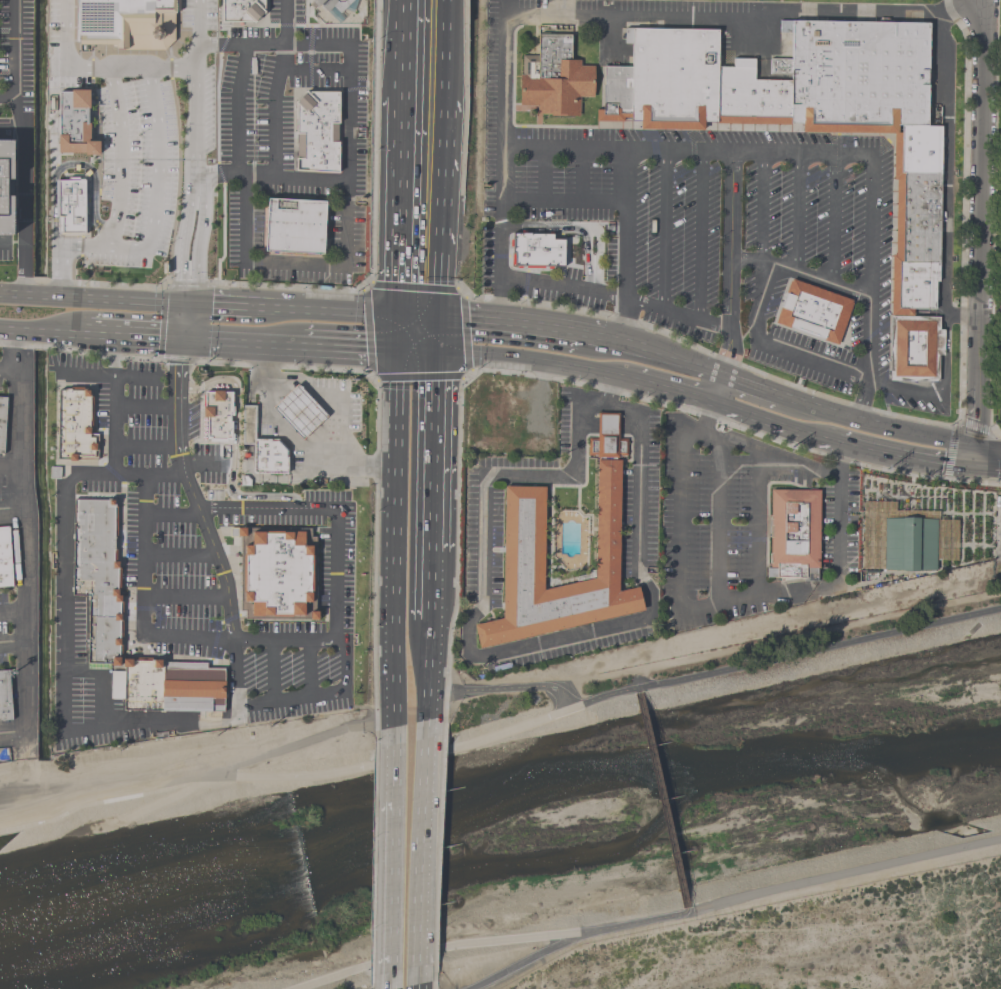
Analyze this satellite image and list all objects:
building: (330, 8)
building: (241, 12)
road: (674, 17)
building: (121, 23)
road: (64, 27)
road: (266, 47)
road: (403, 49)
road: (440, 50)
road: (128, 69)
building: (554, 77)
building: (673, 78)
building: (859, 78)
road: (349, 83)
road: (199, 87)
building: (754, 93)
building: (614, 96)
road: (7, 98)
road: (245, 111)
road: (283, 112)
road: (10, 130)
building: (315, 133)
road: (23, 146)
parking lot: (151, 146)
road: (120, 157)
road: (819, 157)
road: (945, 162)
road: (68, 164)
road: (272, 176)
road: (545, 176)
road: (583, 177)
building: (7, 187)
road: (438, 194)
road: (155, 199)
road: (565, 202)
road: (400, 207)
road: (763, 209)
road: (798, 215)
road: (834, 222)
road: (980, 225)
building: (294, 228)
road: (580, 229)
parking lot: (696, 230)
road: (665, 234)
road: (190, 239)
road: (703, 239)
road: (2, 242)
road: (627, 247)
building: (536, 250)
road: (587, 260)
road: (751, 261)
road: (293, 264)
road: (60, 270)
road: (500, 280)
road: (731, 280)
road: (820, 282)
road: (414, 287)
road: (334, 289)
road: (93, 298)
road: (485, 299)
road: (498, 300)
road: (436, 303)
traffic signals: (187, 306)
road: (218, 308)
road: (270, 311)
road: (345, 313)
building: (812, 313)
traffic signals: (399, 315)
road: (963, 315)
road: (417, 316)
traffic signals: (436, 317)
road: (679, 317)
road: (498, 321)
road: (185, 322)
road: (398, 331)
road: (368, 332)
road: (581, 332)
road: (42, 333)
road: (435, 333)
road: (97, 334)
road: (465, 334)
road: (146, 336)
traffic signals: (184, 339)
road: (242, 341)
road: (623, 341)
road: (349, 345)
traffic signals: (398, 347)
road: (416, 348)
road: (776, 348)
traffic signals: (434, 349)
building: (915, 349)
road: (53, 351)
road: (114, 355)
road: (534, 359)
road: (682, 359)
road: (179, 363)
road: (10, 373)
road: (104, 374)
road: (467, 374)
road: (373, 377)
road: (419, 377)
building: (1000, 381)
road: (940, 388)
road: (672, 391)
road: (341, 401)
road: (145, 407)
building: (1000, 409)
building: (300, 411)
building: (218, 415)
road: (706, 419)
road: (847, 419)
building: (1, 421)
road: (774, 421)
road: (112, 425)
building: (249, 425)
building: (74, 426)
gas station: (305, 428)
road: (284, 433)
road: (233, 444)
road: (146, 445)
road: (432, 450)
traffic signals: (979, 451)
road: (990, 451)
road: (770, 455)
building: (269, 458)
road: (906, 459)
road: (978, 460)
road: (11, 467)
road: (202, 467)
traffic signals: (978, 470)
road: (989, 470)
road: (249, 509)
road: (12, 510)
road: (172, 514)
road: (719, 520)
road: (758, 524)
road: (25, 530)
building: (524, 532)
building: (793, 534)
road: (394, 537)
building: (908, 542)
road: (179, 555)
building: (5, 557)
road: (217, 558)
building: (275, 573)
building: (98, 576)
road: (429, 592)
road: (186, 596)
road: (731, 599)
road: (13, 614)
road: (64, 620)
road: (776, 641)
road: (14, 642)
road: (244, 642)
road: (817, 648)
road: (482, 655)
road: (347, 660)
road: (310, 669)
road: (274, 671)
road: (427, 678)
road: (102, 680)
building: (143, 683)
building: (117, 685)
building: (192, 687)
road: (534, 687)
building: (6, 696)
road: (290, 698)
road: (13, 732)
road: (392, 765)
road: (293, 778)
road: (660, 799)
river: (500, 830)
road: (421, 856)
road: (842, 874)
road: (390, 896)
road: (565, 934)
road: (524, 962)
road: (330, 978)
road: (417, 988)

